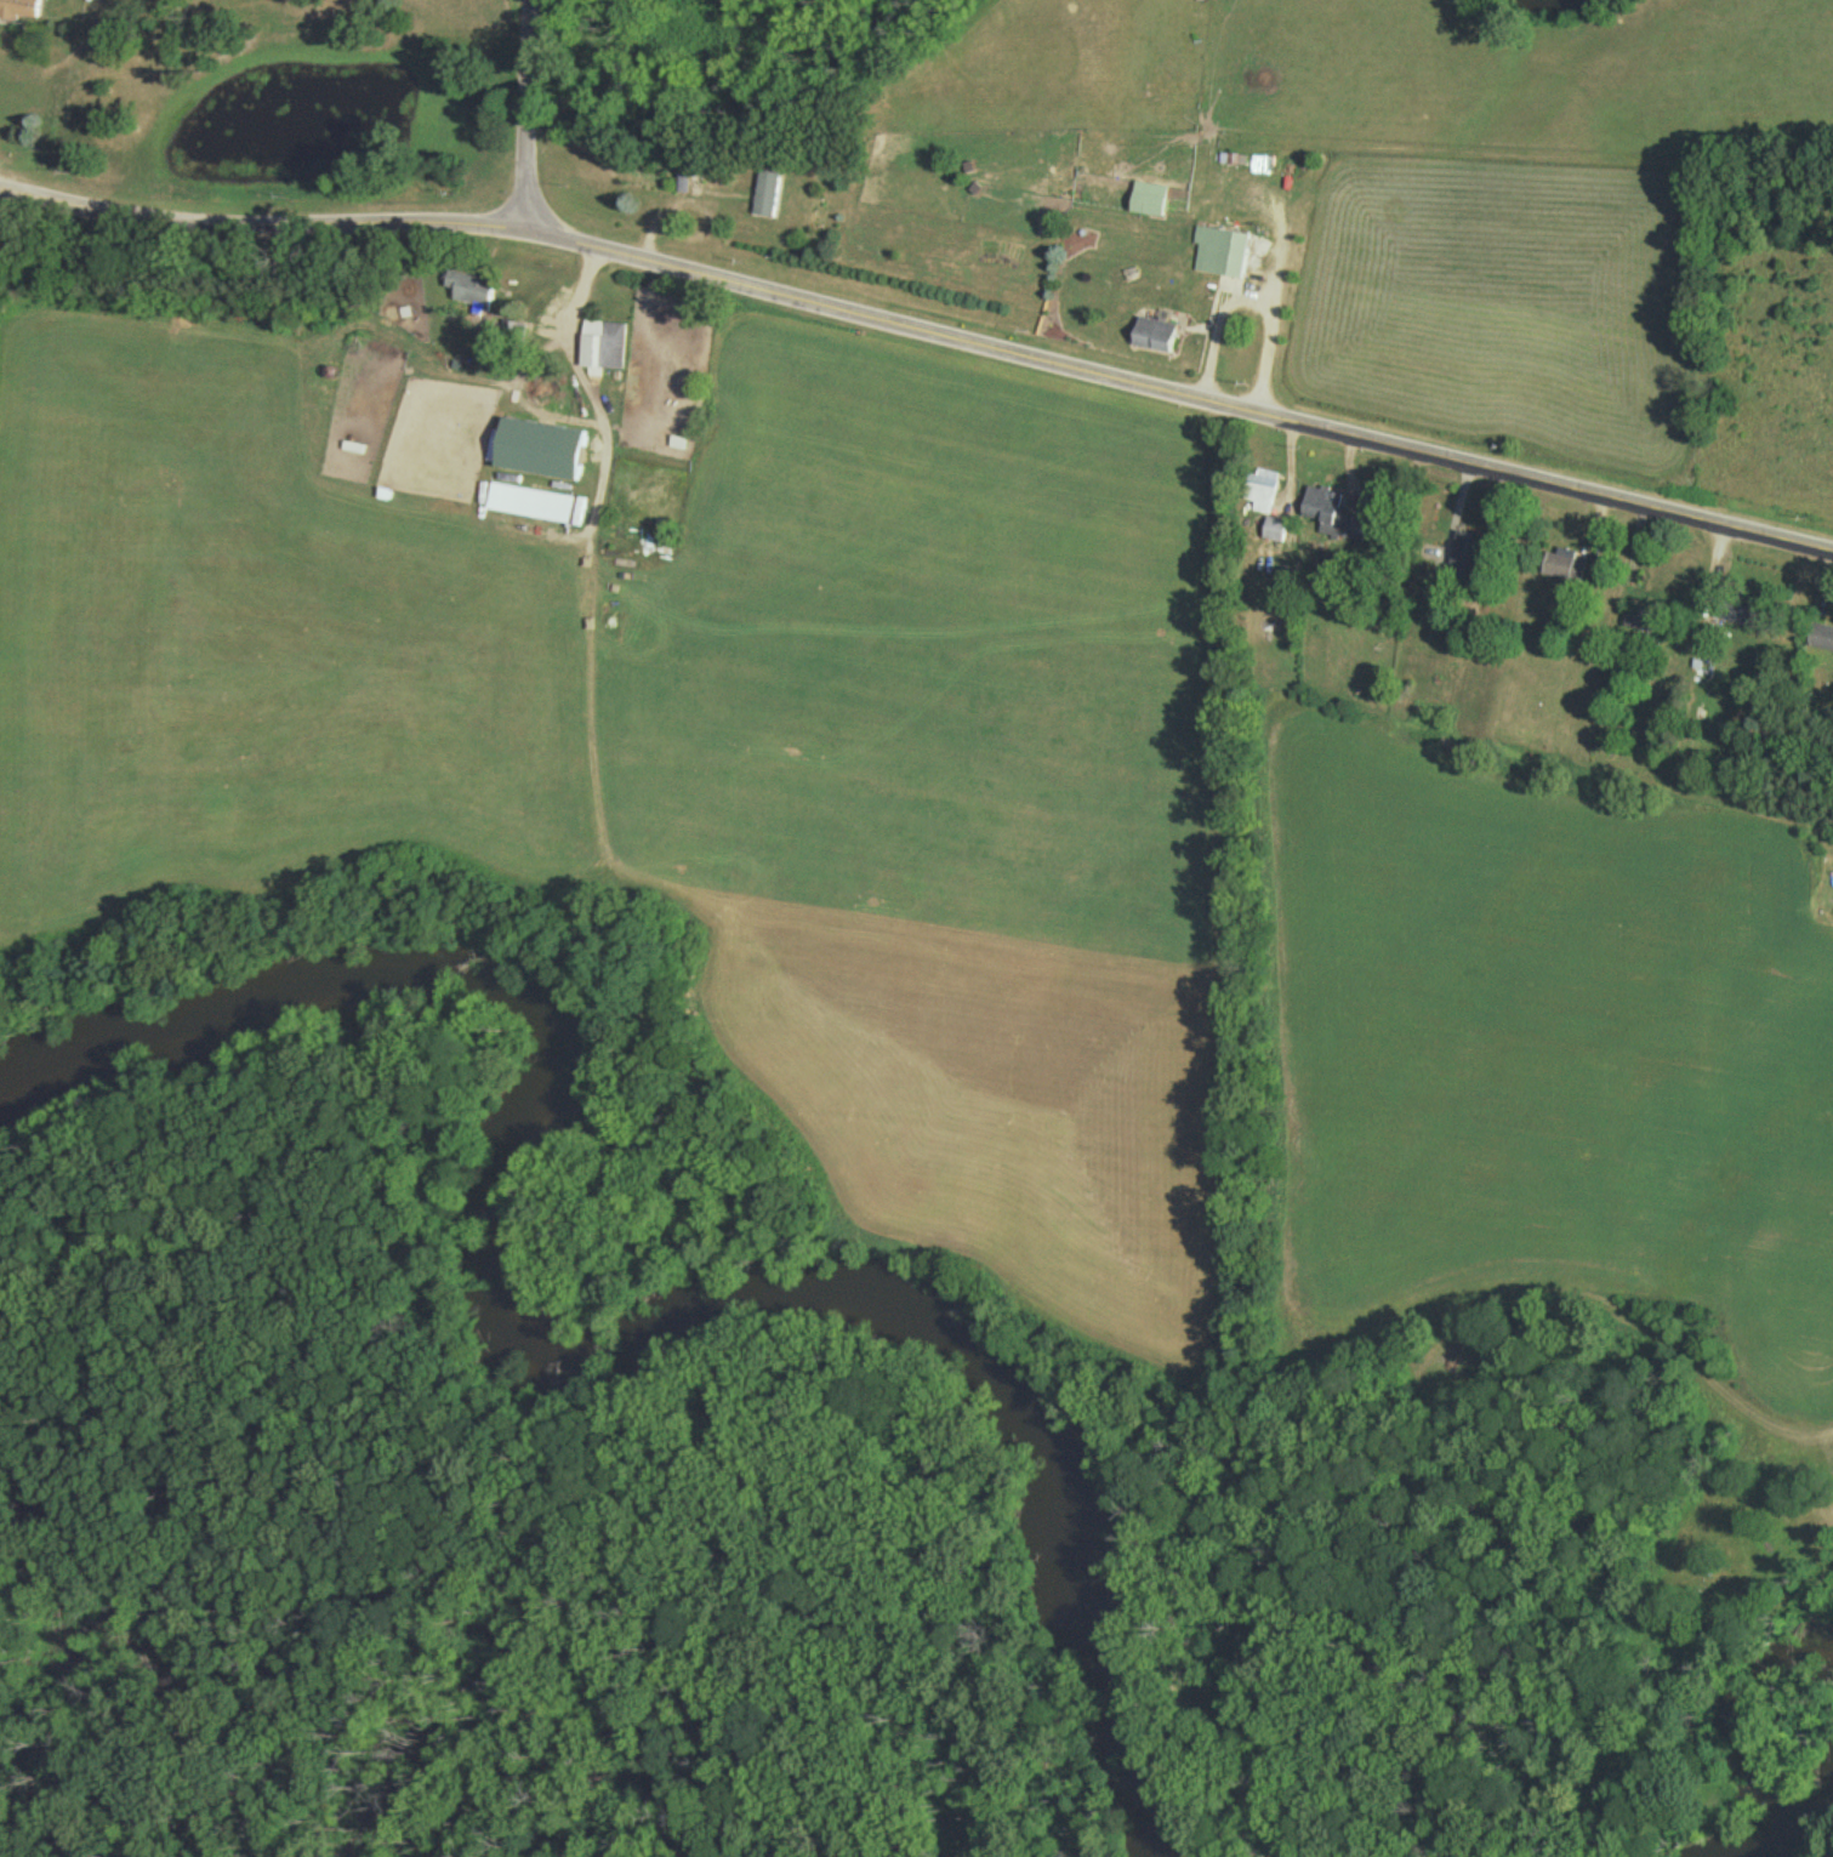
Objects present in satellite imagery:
building: (18, 11)
road: (524, 116)
building: (681, 187)
building: (764, 198)
building: (1148, 203)
building: (1219, 256)
building: (468, 294)
road: (922, 324)
building: (1152, 337)
building: (602, 348)
building: (1260, 491)
building: (545, 509)
building: (1328, 515)
building: (1274, 532)
building: (1468, 557)
building: (1564, 568)
building: (1734, 615)
building: (1820, 640)
road: (1384, 763)
river: (558, 1361)
river: (1775, 1825)

